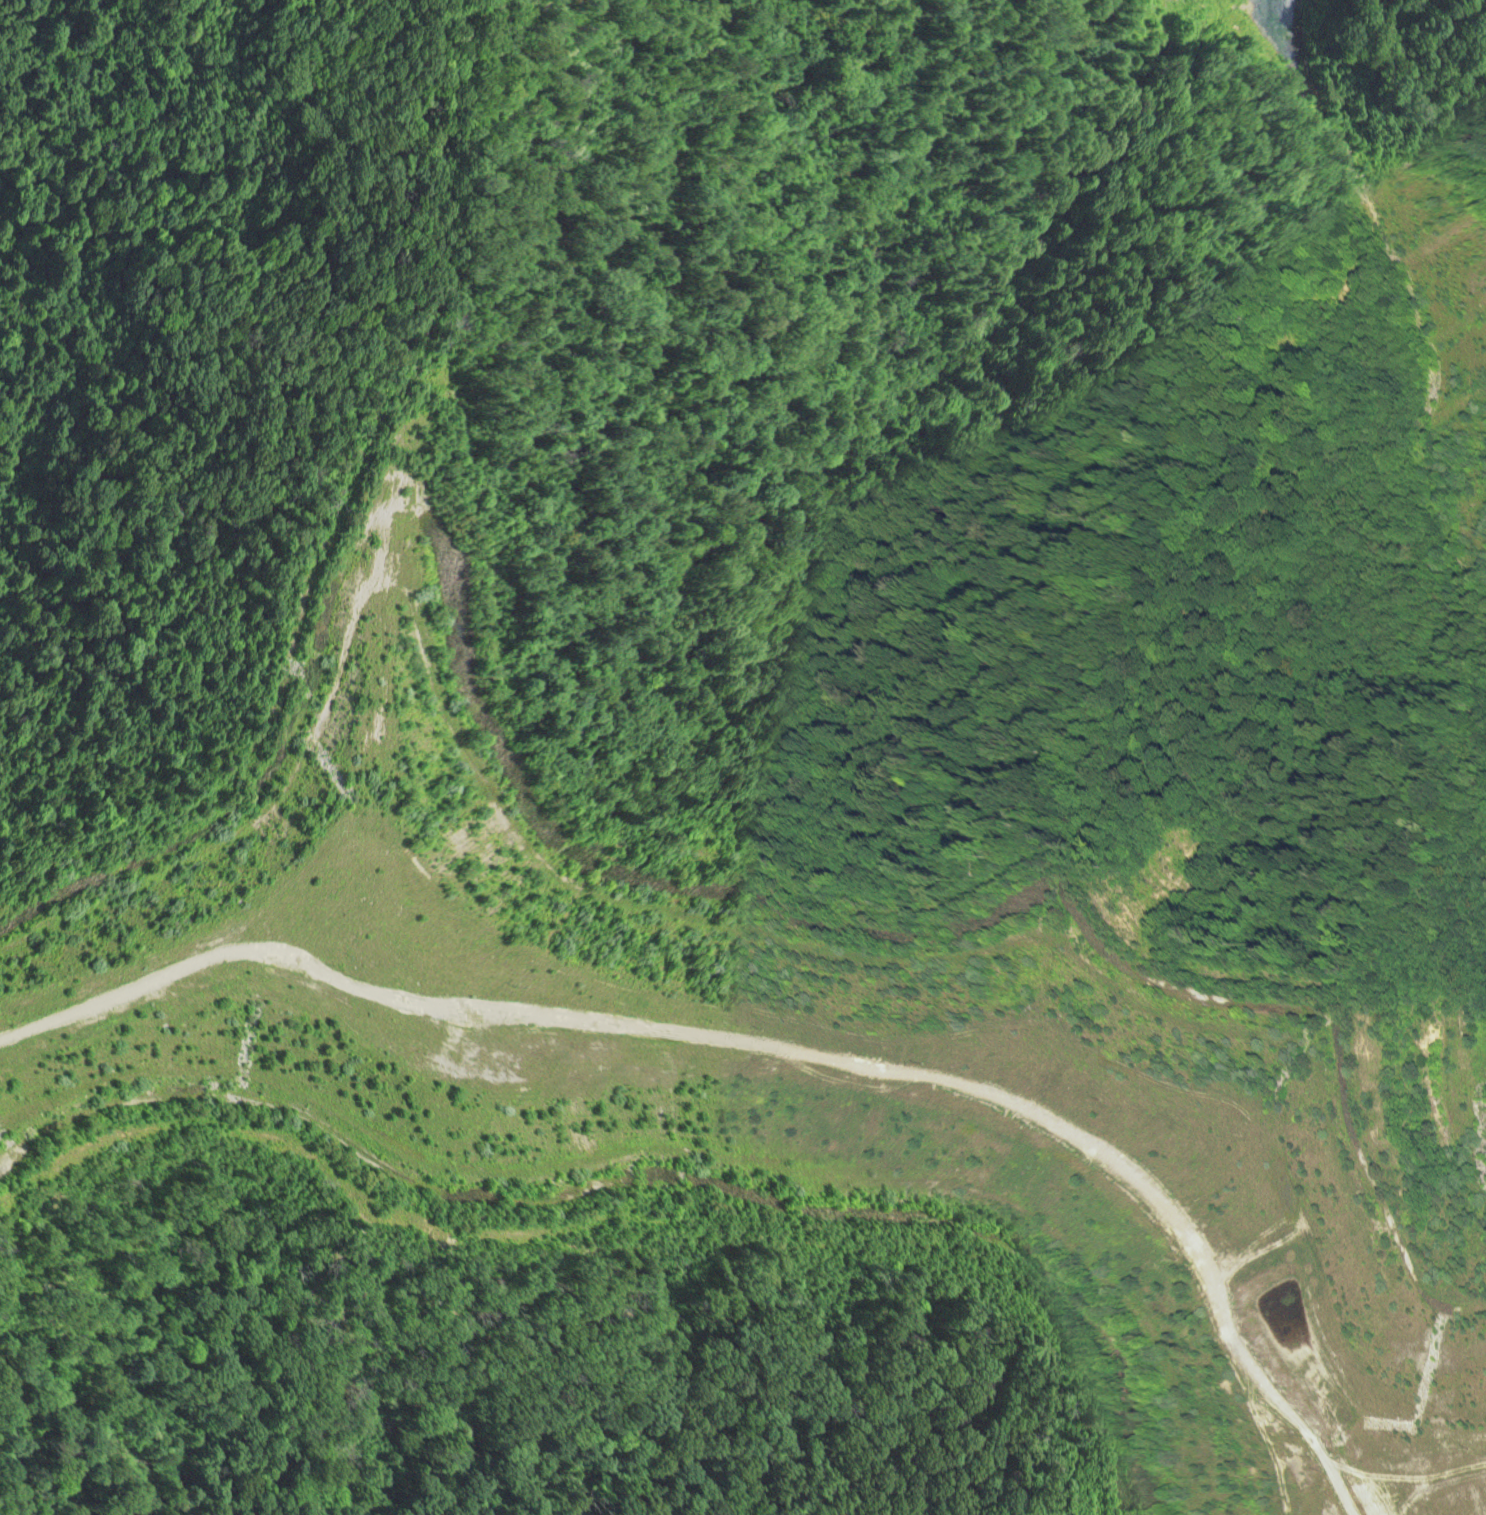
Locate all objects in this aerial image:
quarry: (1377, 231)
quarry: (763, 1074)

